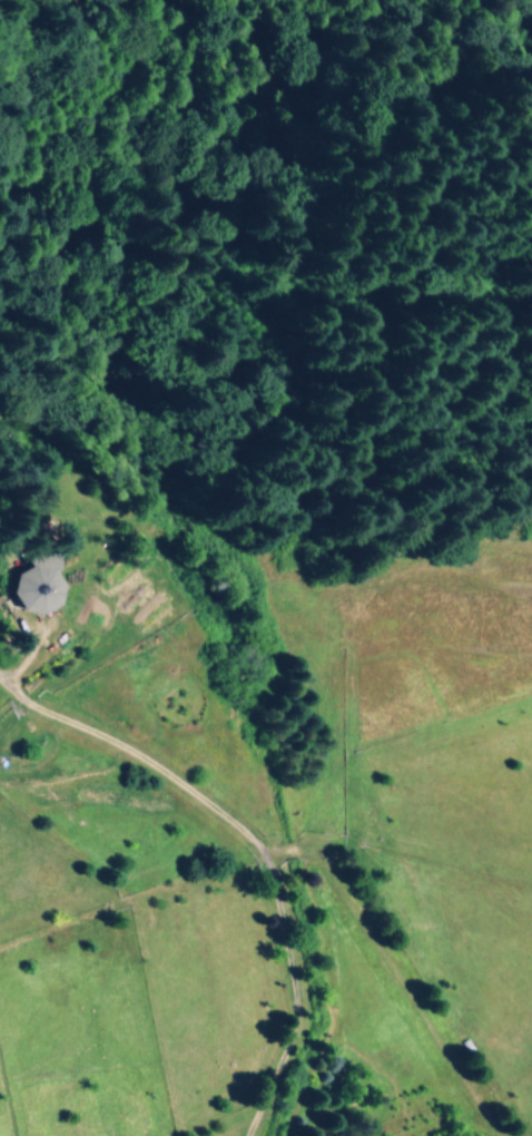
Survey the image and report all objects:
building: (35, 572)

